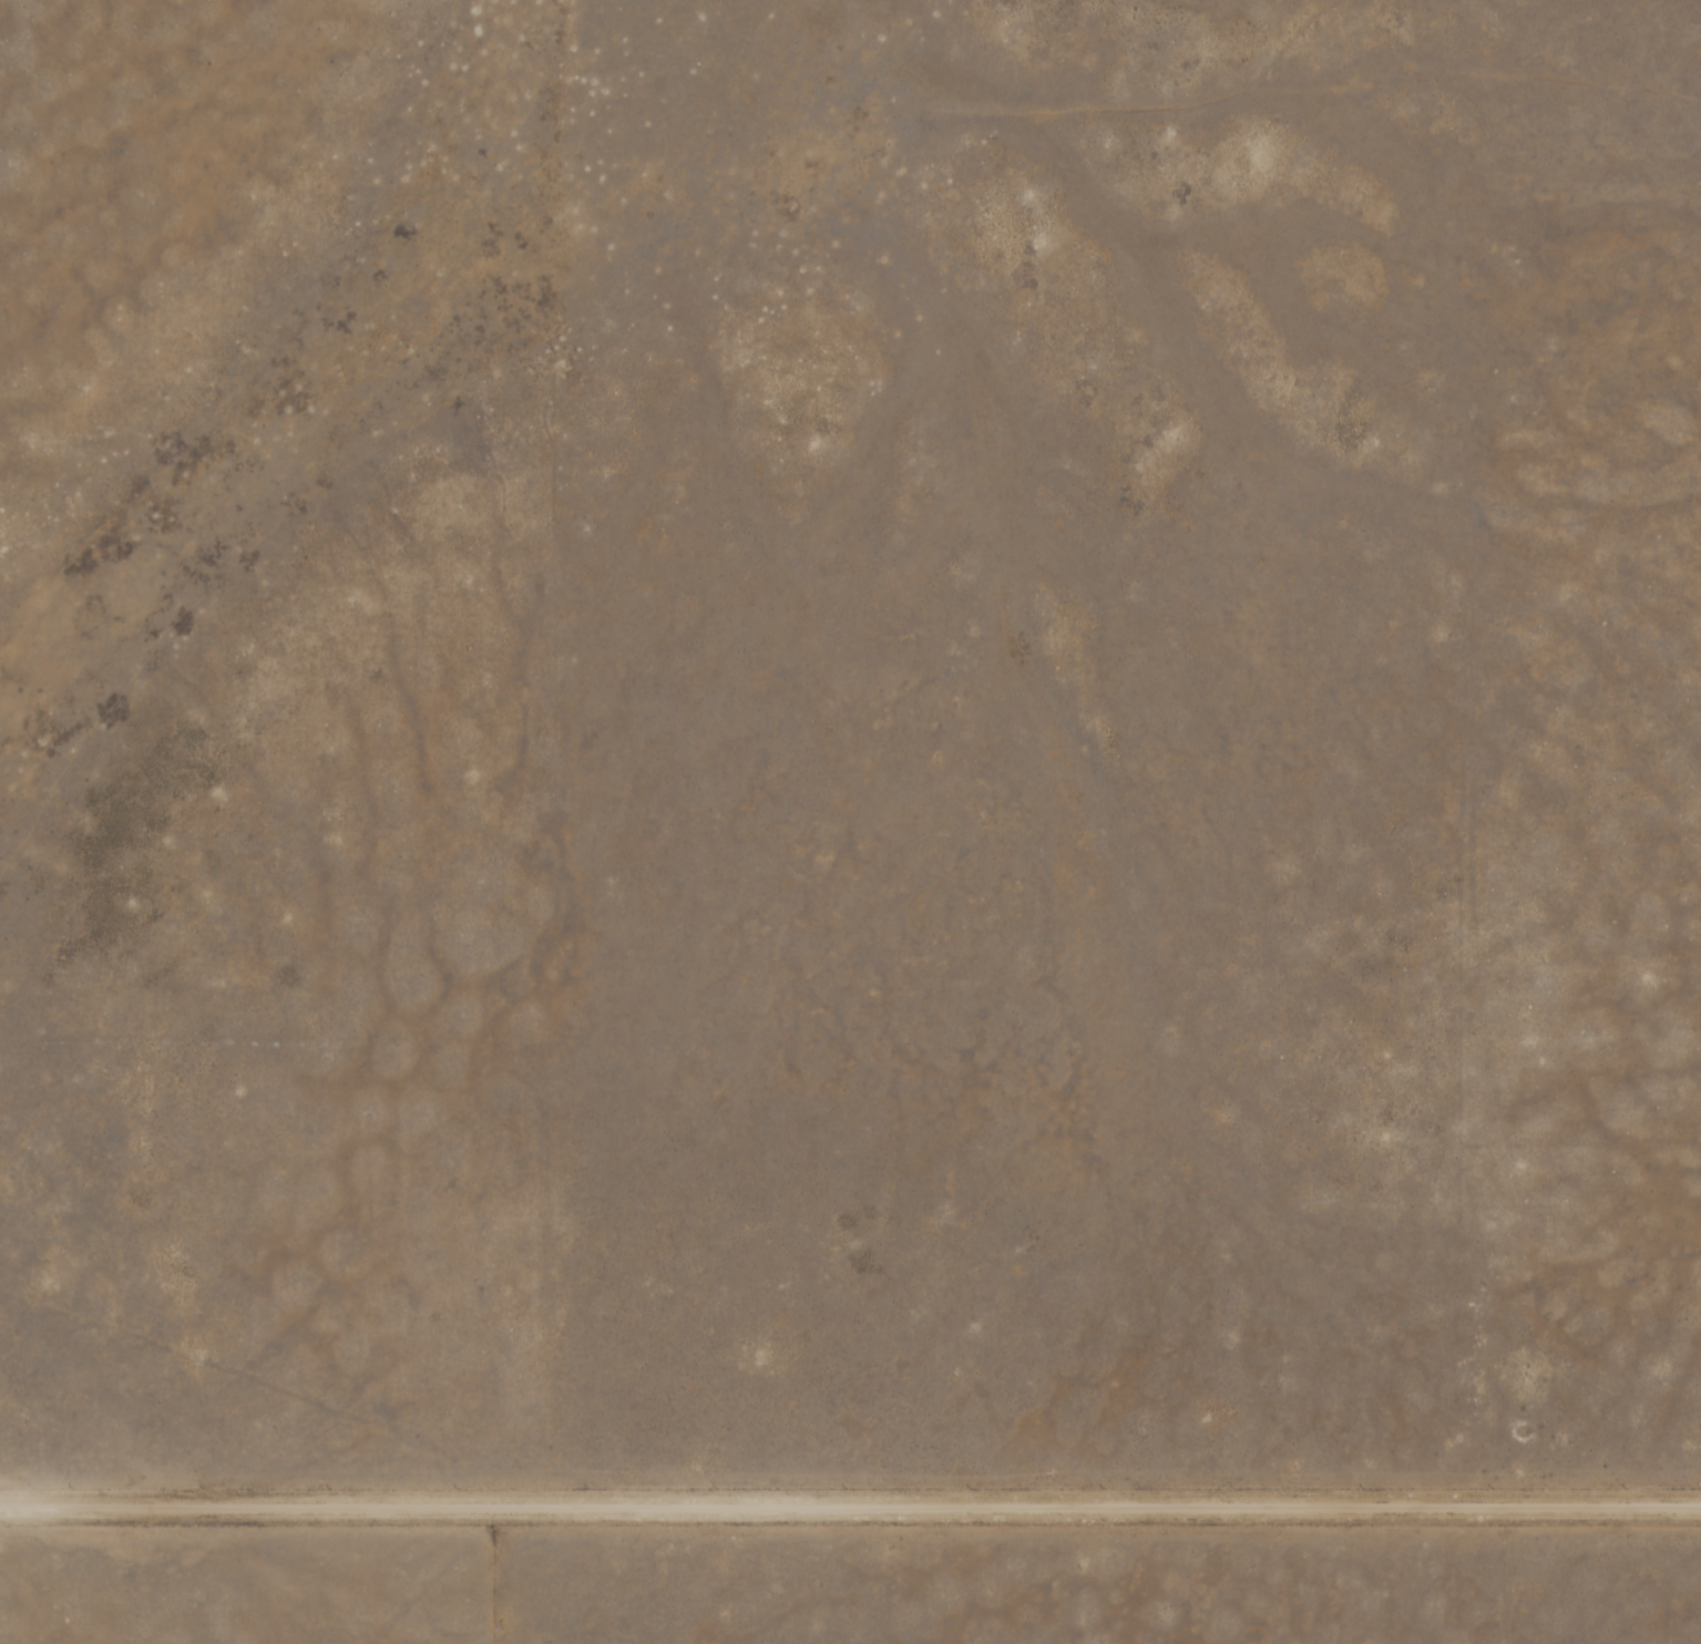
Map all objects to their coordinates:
road: (850, 1489)

